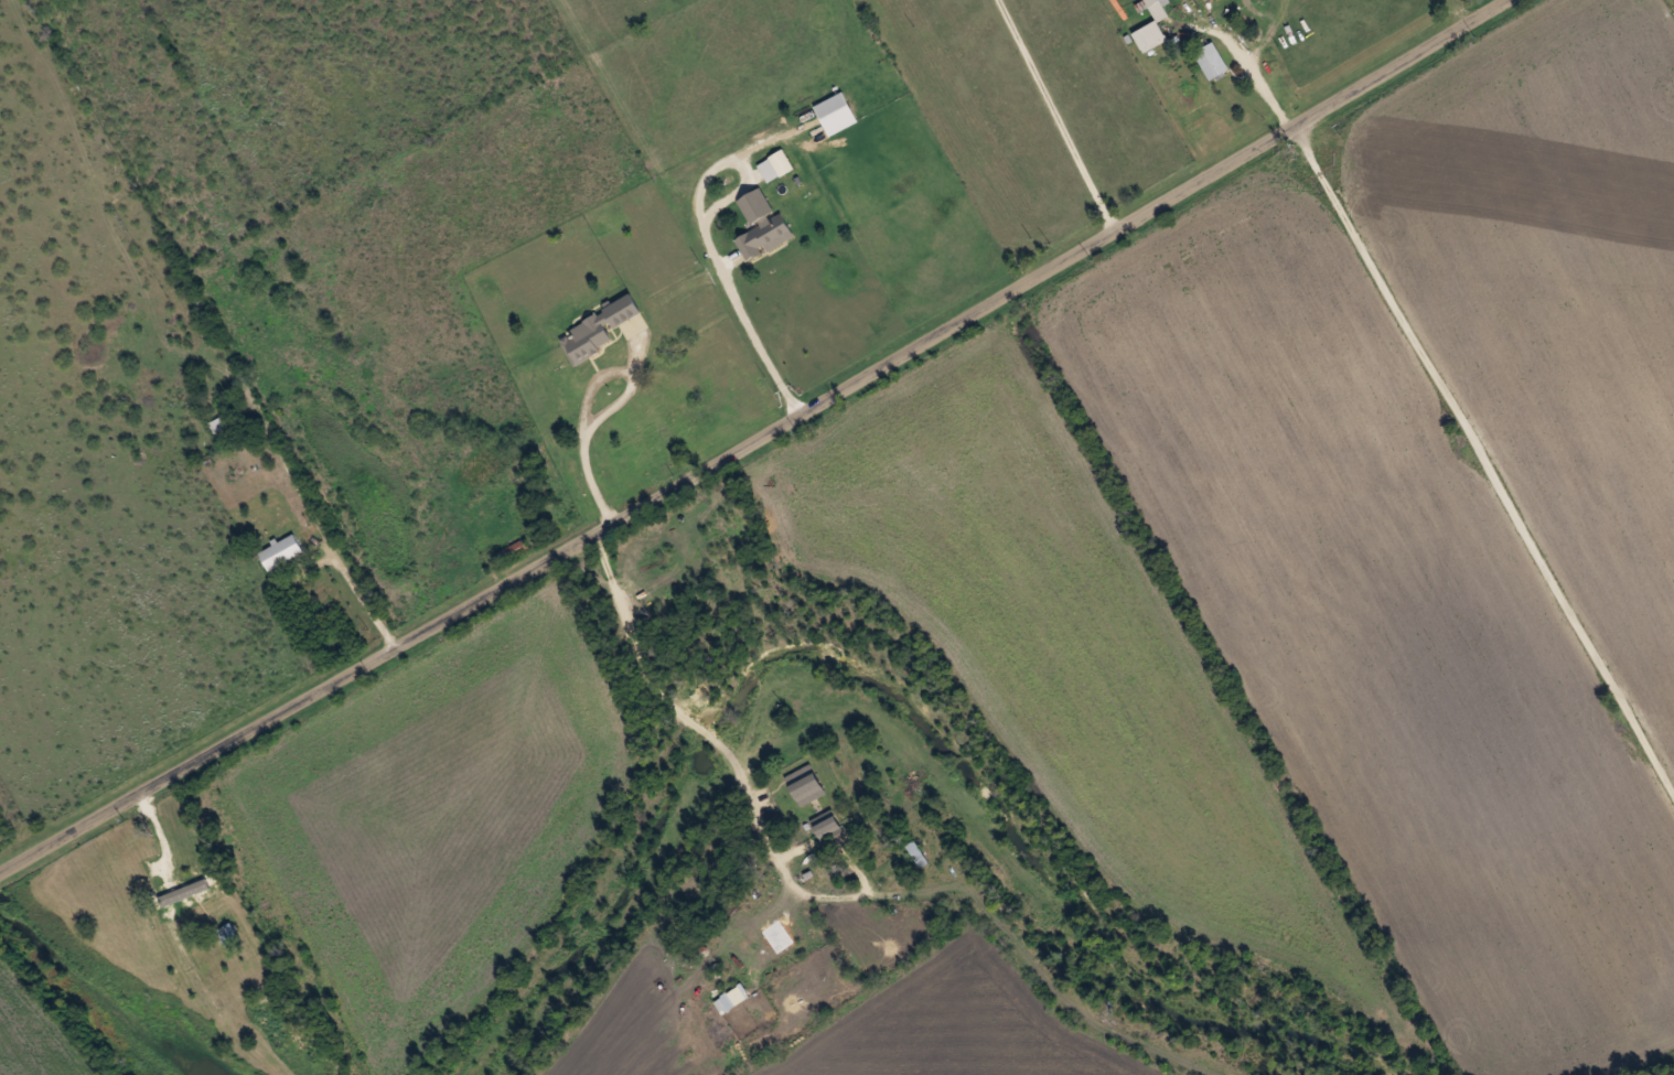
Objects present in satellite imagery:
building: (1157, 9)
building: (1211, 61)
building: (836, 111)
building: (775, 164)
building: (762, 224)
building: (598, 327)
building: (221, 421)
road: (780, 450)
building: (514, 549)
building: (282, 550)
building: (806, 783)
building: (829, 827)
building: (916, 851)
building: (207, 917)
building: (228, 932)
building: (732, 997)

